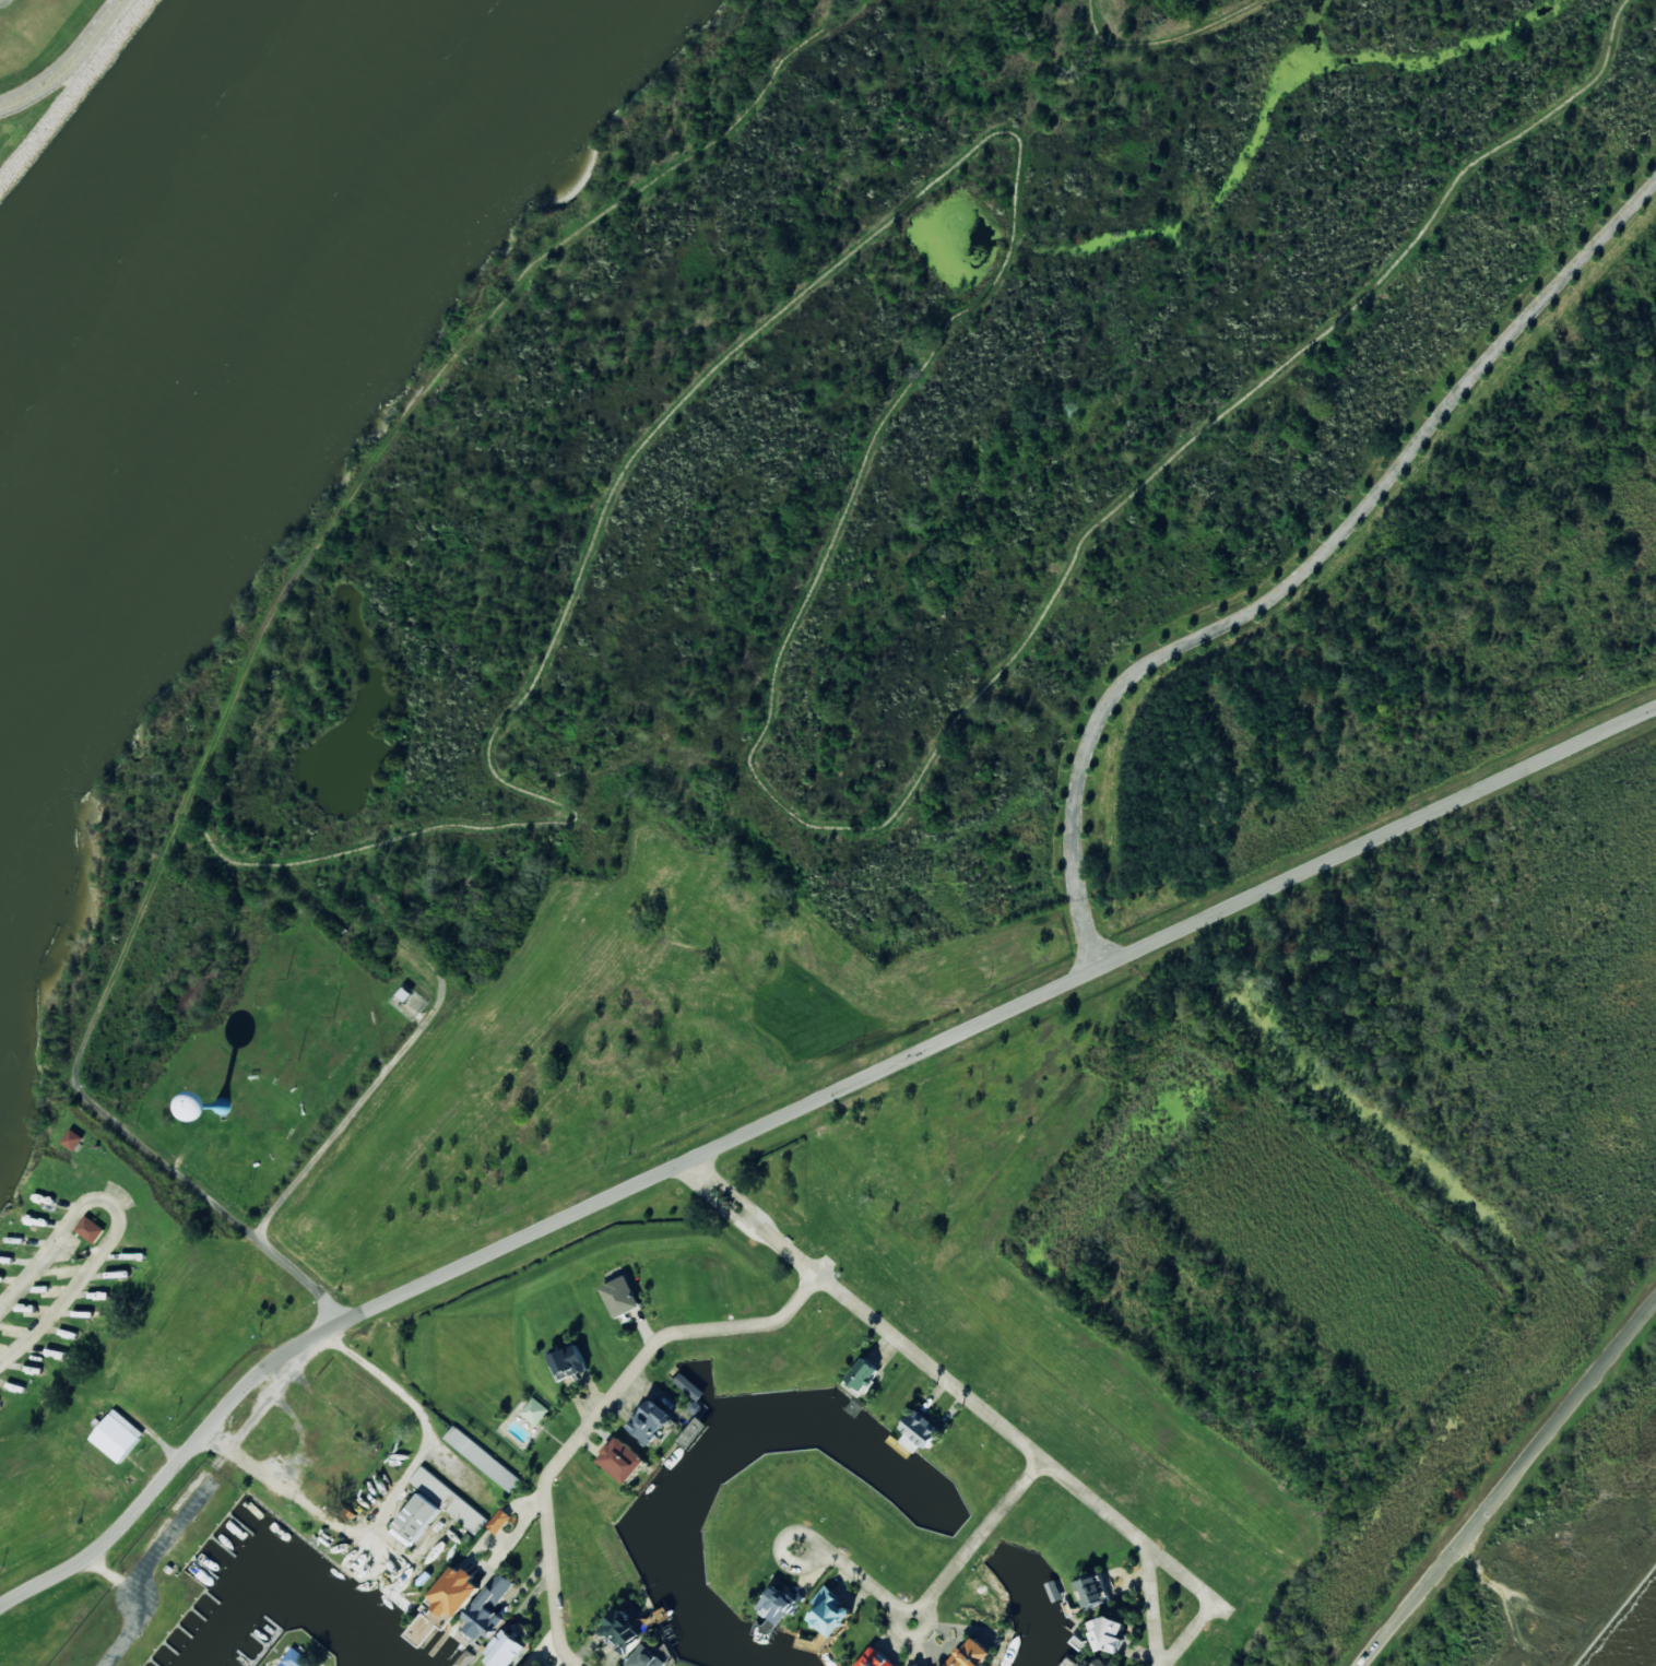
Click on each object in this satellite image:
road: (69, 61)
road: (122, 957)
road: (296, 1065)
road: (793, 1111)
building: (72, 1139)
road: (132, 1220)
building: (90, 1229)
building: (622, 1297)
building: (569, 1360)
building: (862, 1375)
road: (983, 1408)
building: (534, 1410)
road: (600, 1416)
building: (651, 1421)
building: (920, 1431)
building: (117, 1435)
building: (483, 1458)
building: (622, 1460)
road: (1510, 1485)
building: (435, 1509)
building: (499, 1521)
road: (359, 1549)
road: (941, 1584)
building: (1092, 1591)
building: (456, 1592)
building: (778, 1605)
road: (1155, 1606)
building: (488, 1608)
building: (830, 1611)
building: (623, 1631)
building: (1109, 1634)
building: (506, 1649)
building: (972, 1654)
building: (647, 1657)
building: (296, 1658)
building: (876, 1658)
building: (539, 1664)

